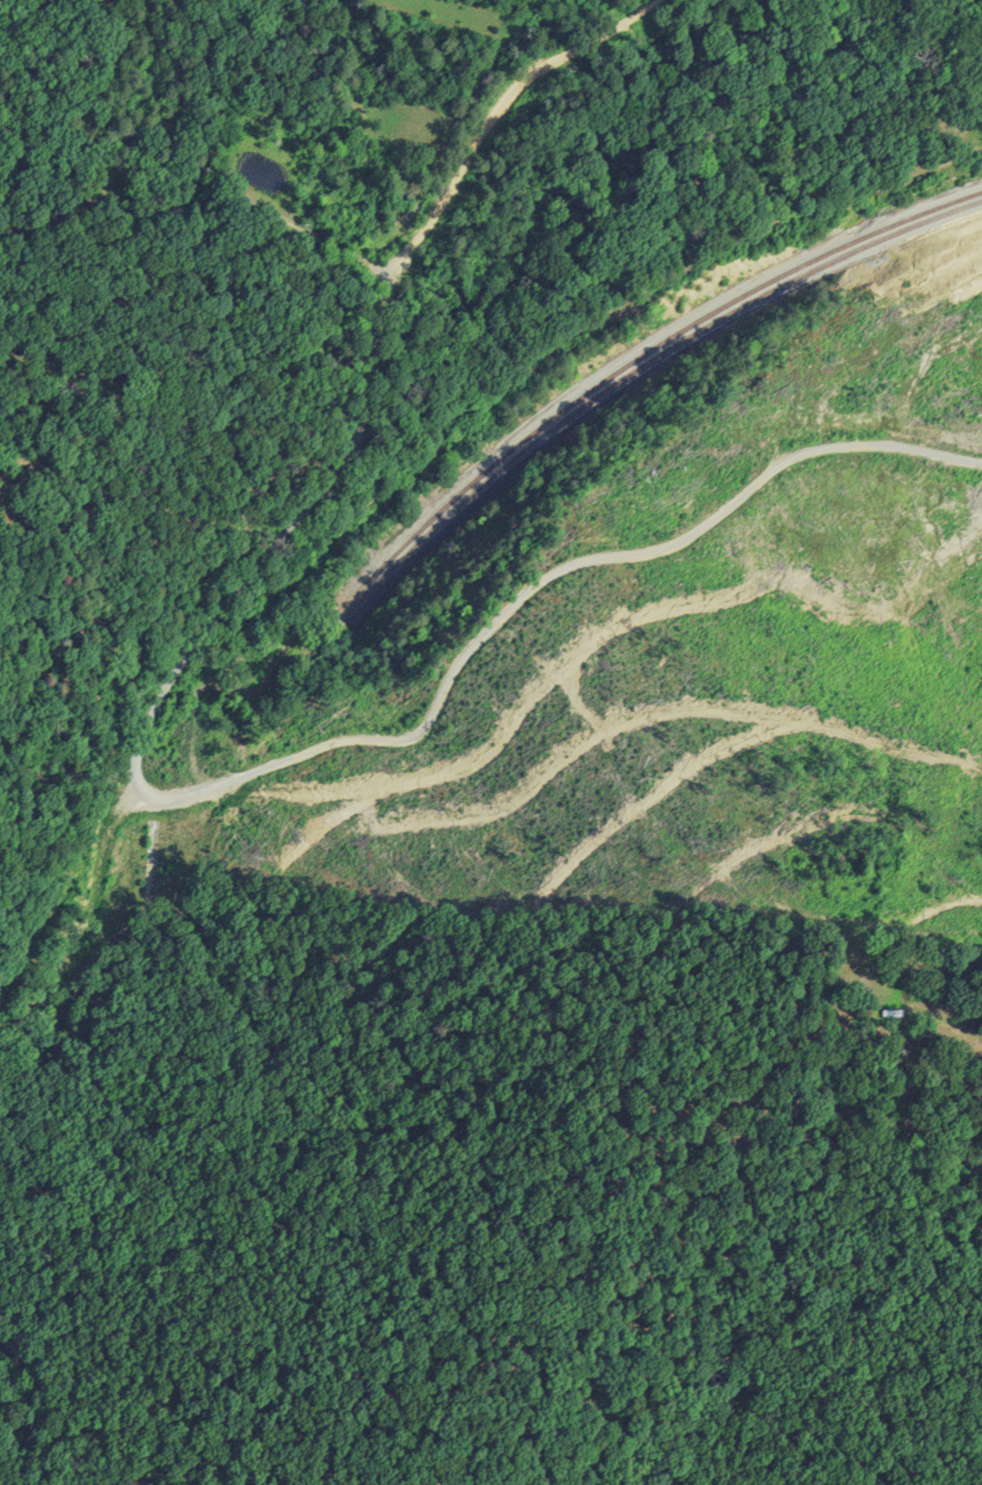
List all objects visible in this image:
road: (158, 89)
road: (496, 114)
road: (205, 183)
road: (70, 213)
railway: (635, 362)
railway: (638, 371)
road: (324, 747)
road: (86, 921)
road: (951, 1060)

